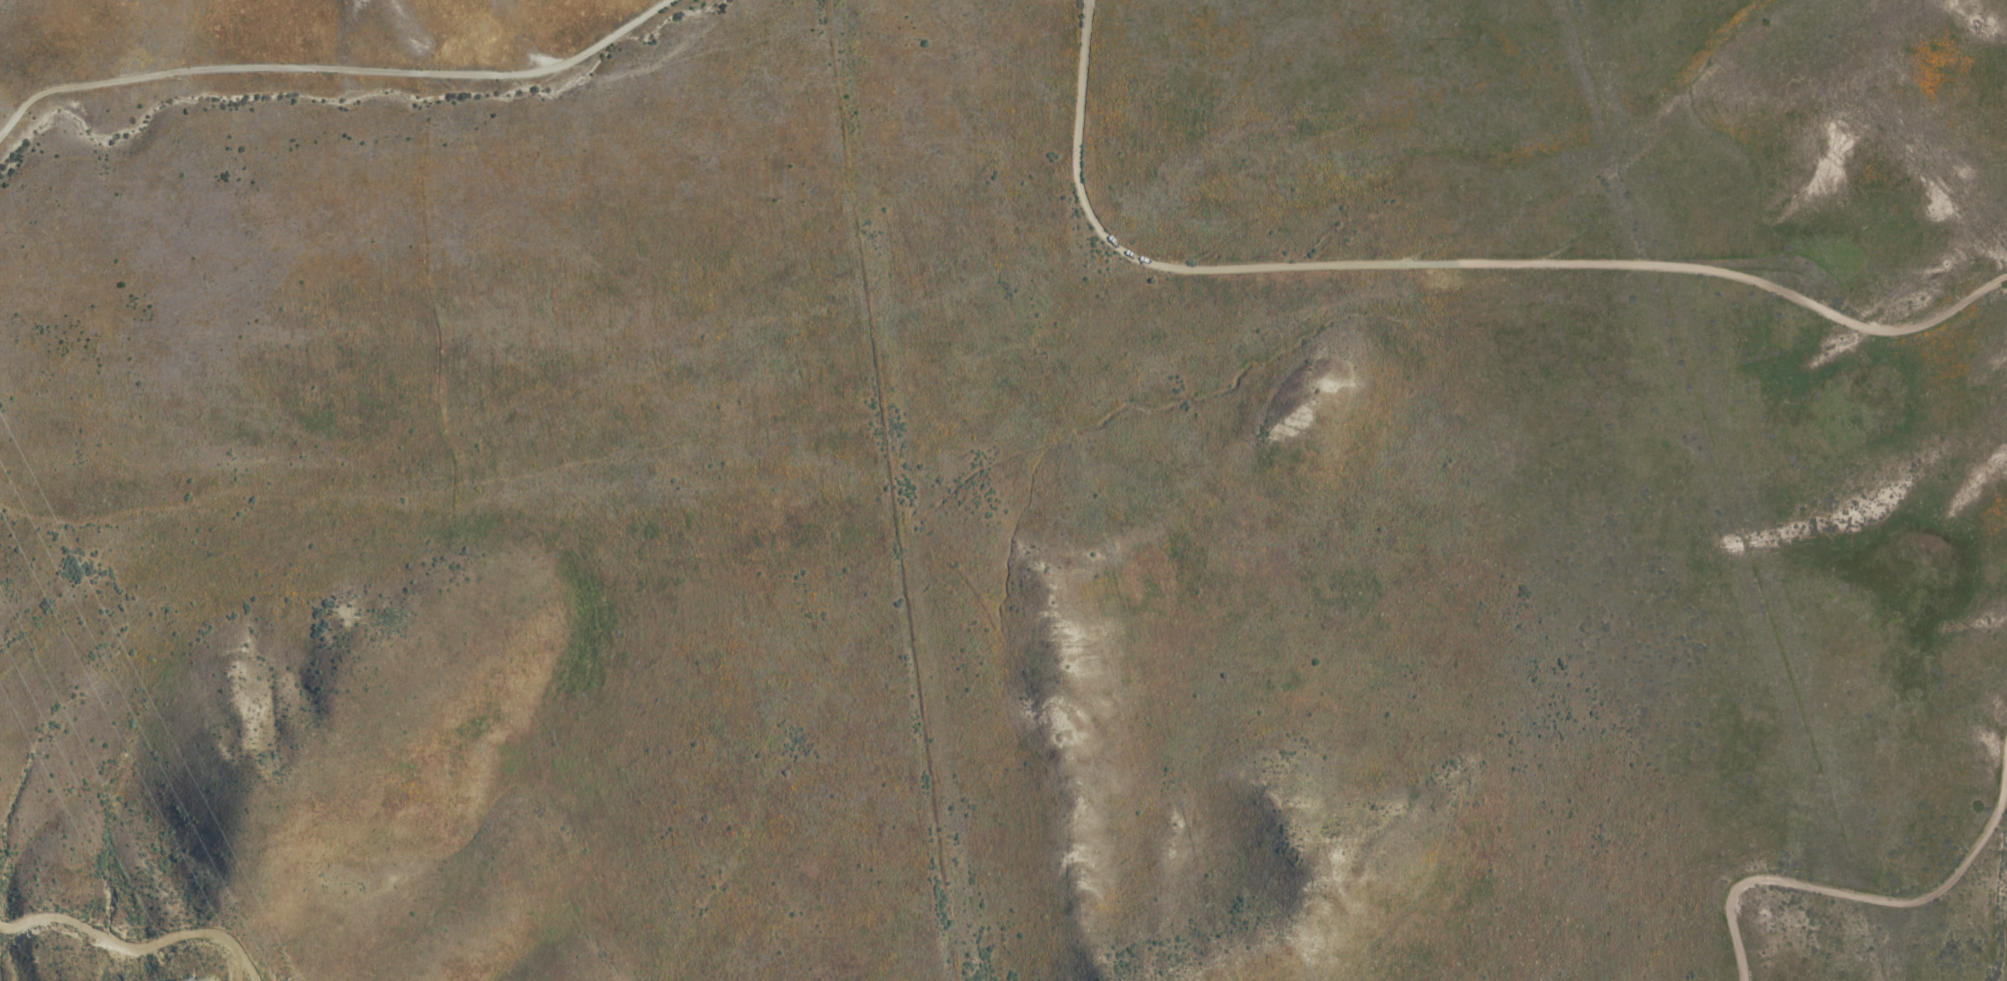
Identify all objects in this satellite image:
road: (333, 70)
road: (1242, 272)
road: (1814, 311)
road: (1857, 899)
road: (135, 945)

